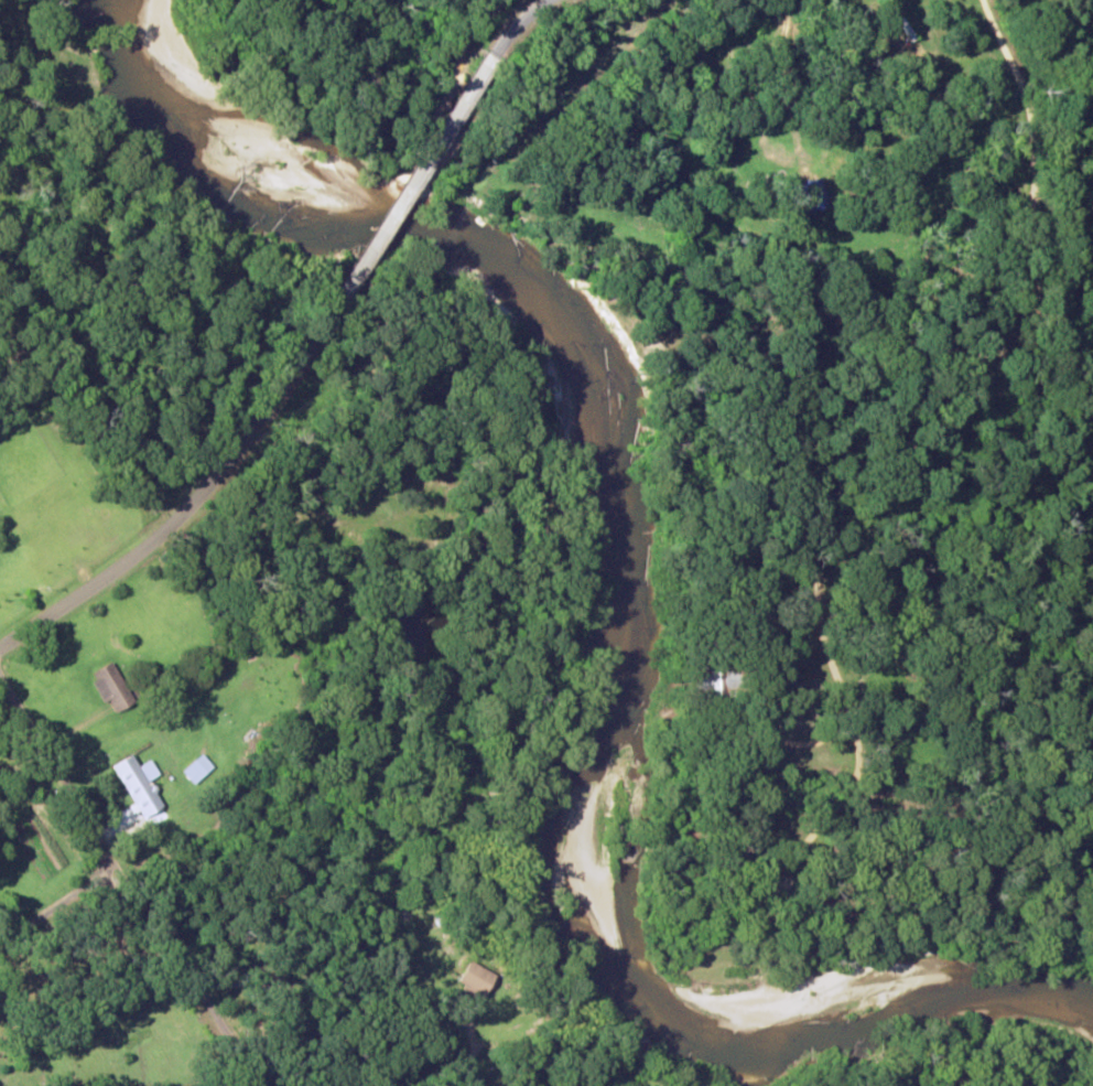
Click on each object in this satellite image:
road: (519, 25)
road: (423, 172)
building: (814, 194)
road: (251, 433)
road: (65, 603)
building: (113, 687)
building: (198, 768)
building: (141, 784)
road: (130, 885)
road: (57, 903)
building: (477, 978)

